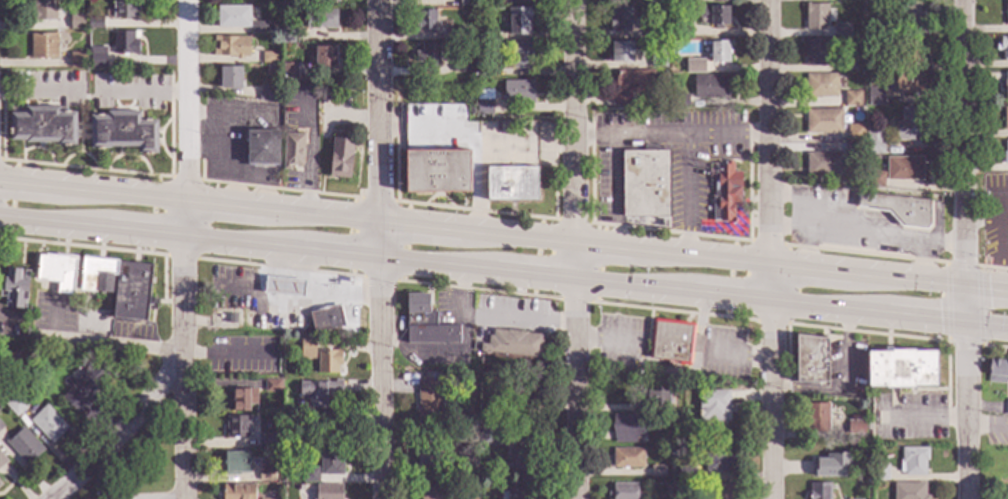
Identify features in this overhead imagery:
building: (520, 1)
building: (679, 1)
building: (853, 1)
building: (327, 2)
building: (465, 3)
building: (123, 10)
building: (40, 11)
building: (1006, 14)
building: (713, 16)
building: (909, 16)
building: (232, 18)
building: (816, 18)
building: (320, 20)
building: (619, 20)
building: (426, 22)
building: (518, 22)
building: (75, 23)
building: (94, 24)
building: (259, 28)
building: (681, 29)
building: (841, 30)
building: (872, 31)
building: (652, 33)
building: (465, 34)
building: (288, 36)
building: (483, 36)
building: (124, 45)
building: (40, 47)
building: (230, 48)
building: (1004, 48)
building: (718, 52)
building: (621, 53)
building: (815, 53)
building: (909, 53)
building: (427, 57)
building: (520, 57)
building: (97, 58)
building: (269, 58)
building: (324, 58)
building: (658, 60)
building: (76, 61)
building: (849, 64)
building: (691, 67)
building: (459, 68)
building: (288, 71)
building: (482, 71)
building: (230, 79)
building: (630, 85)
building: (908, 85)
building: (1005, 86)
building: (820, 87)
building: (710, 88)
road: (141, 93)
building: (518, 93)
building: (267, 94)
building: (485, 96)
building: (874, 97)
building: (851, 100)
building: (680, 101)
building: (484, 107)
building: (1005, 119)
building: (823, 122)
building: (908, 126)
building: (42, 127)
building: (122, 133)
road: (630, 134)
building: (854, 136)
building: (874, 147)
building: (262, 148)
building: (851, 150)
road: (687, 151)
building: (291, 152)
building: (468, 155)
building: (1005, 155)
road: (1, 159)
building: (340, 159)
building: (823, 165)
road: (86, 169)
building: (903, 170)
road: (185, 179)
building: (874, 180)
building: (644, 184)
road: (269, 188)
road: (614, 190)
building: (724, 190)
road: (377, 199)
road: (12, 200)
building: (898, 209)
road: (475, 210)
road: (152, 215)
road: (385, 221)
road: (572, 221)
road: (670, 232)
building: (844, 232)
road: (764, 243)
road: (82, 246)
road: (185, 249)
road: (381, 249)
road: (576, 249)
road: (771, 249)
road: (964, 249)
road: (863, 254)
road: (179, 257)
road: (385, 259)
traffic signals: (965, 262)
road: (280, 268)
road: (992, 268)
building: (57, 271)
road: (889, 276)
road: (379, 278)
building: (119, 284)
building: (283, 287)
traffic signals: (988, 288)
building: (14, 289)
road: (478, 289)
road: (574, 300)
gas station: (282, 302)
road: (673, 311)
road: (889, 314)
road: (702, 315)
building: (232, 318)
building: (326, 319)
traffic signals: (939, 320)
road: (493, 321)
building: (426, 323)
road: (772, 323)
road: (869, 333)
road: (950, 339)
road: (104, 341)
building: (673, 341)
road: (610, 342)
building: (513, 343)
road: (699, 344)
road: (994, 347)
building: (307, 349)
traffic signals: (966, 349)
building: (12, 356)
road: (731, 356)
road: (698, 359)
building: (811, 359)
building: (328, 361)
building: (34, 367)
building: (902, 369)
building: (997, 371)
road: (666, 372)
building: (272, 386)
road: (845, 387)
building: (84, 388)
building: (319, 391)
building: (520, 395)
building: (657, 395)
building: (244, 398)
building: (428, 402)
building: (14, 405)
building: (714, 405)
building: (1005, 408)
building: (817, 417)
building: (47, 423)
building: (237, 426)
building: (0, 427)
building: (332, 427)
building: (855, 427)
building: (628, 428)
building: (845, 428)
road: (114, 432)
building: (487, 436)
building: (266, 438)
building: (23, 446)
building: (628, 458)
park: (137, 459)
building: (470, 459)
building: (2, 460)
building: (429, 460)
building: (718, 460)
building: (913, 461)
building: (235, 462)
building: (331, 462)
building: (522, 463)
building: (831, 464)
building: (657, 471)
building: (878, 472)
building: (265, 473)
building: (685, 473)
building: (310, 474)
building: (0, 485)
building: (721, 490)
building: (238, 491)
building: (438, 491)
building: (624, 491)
building: (820, 491)
building: (908, 491)
building: (328, 492)
building: (1007, 493)
building: (520, 494)
building: (270, 498)
building: (461, 498)
building: (469, 498)

